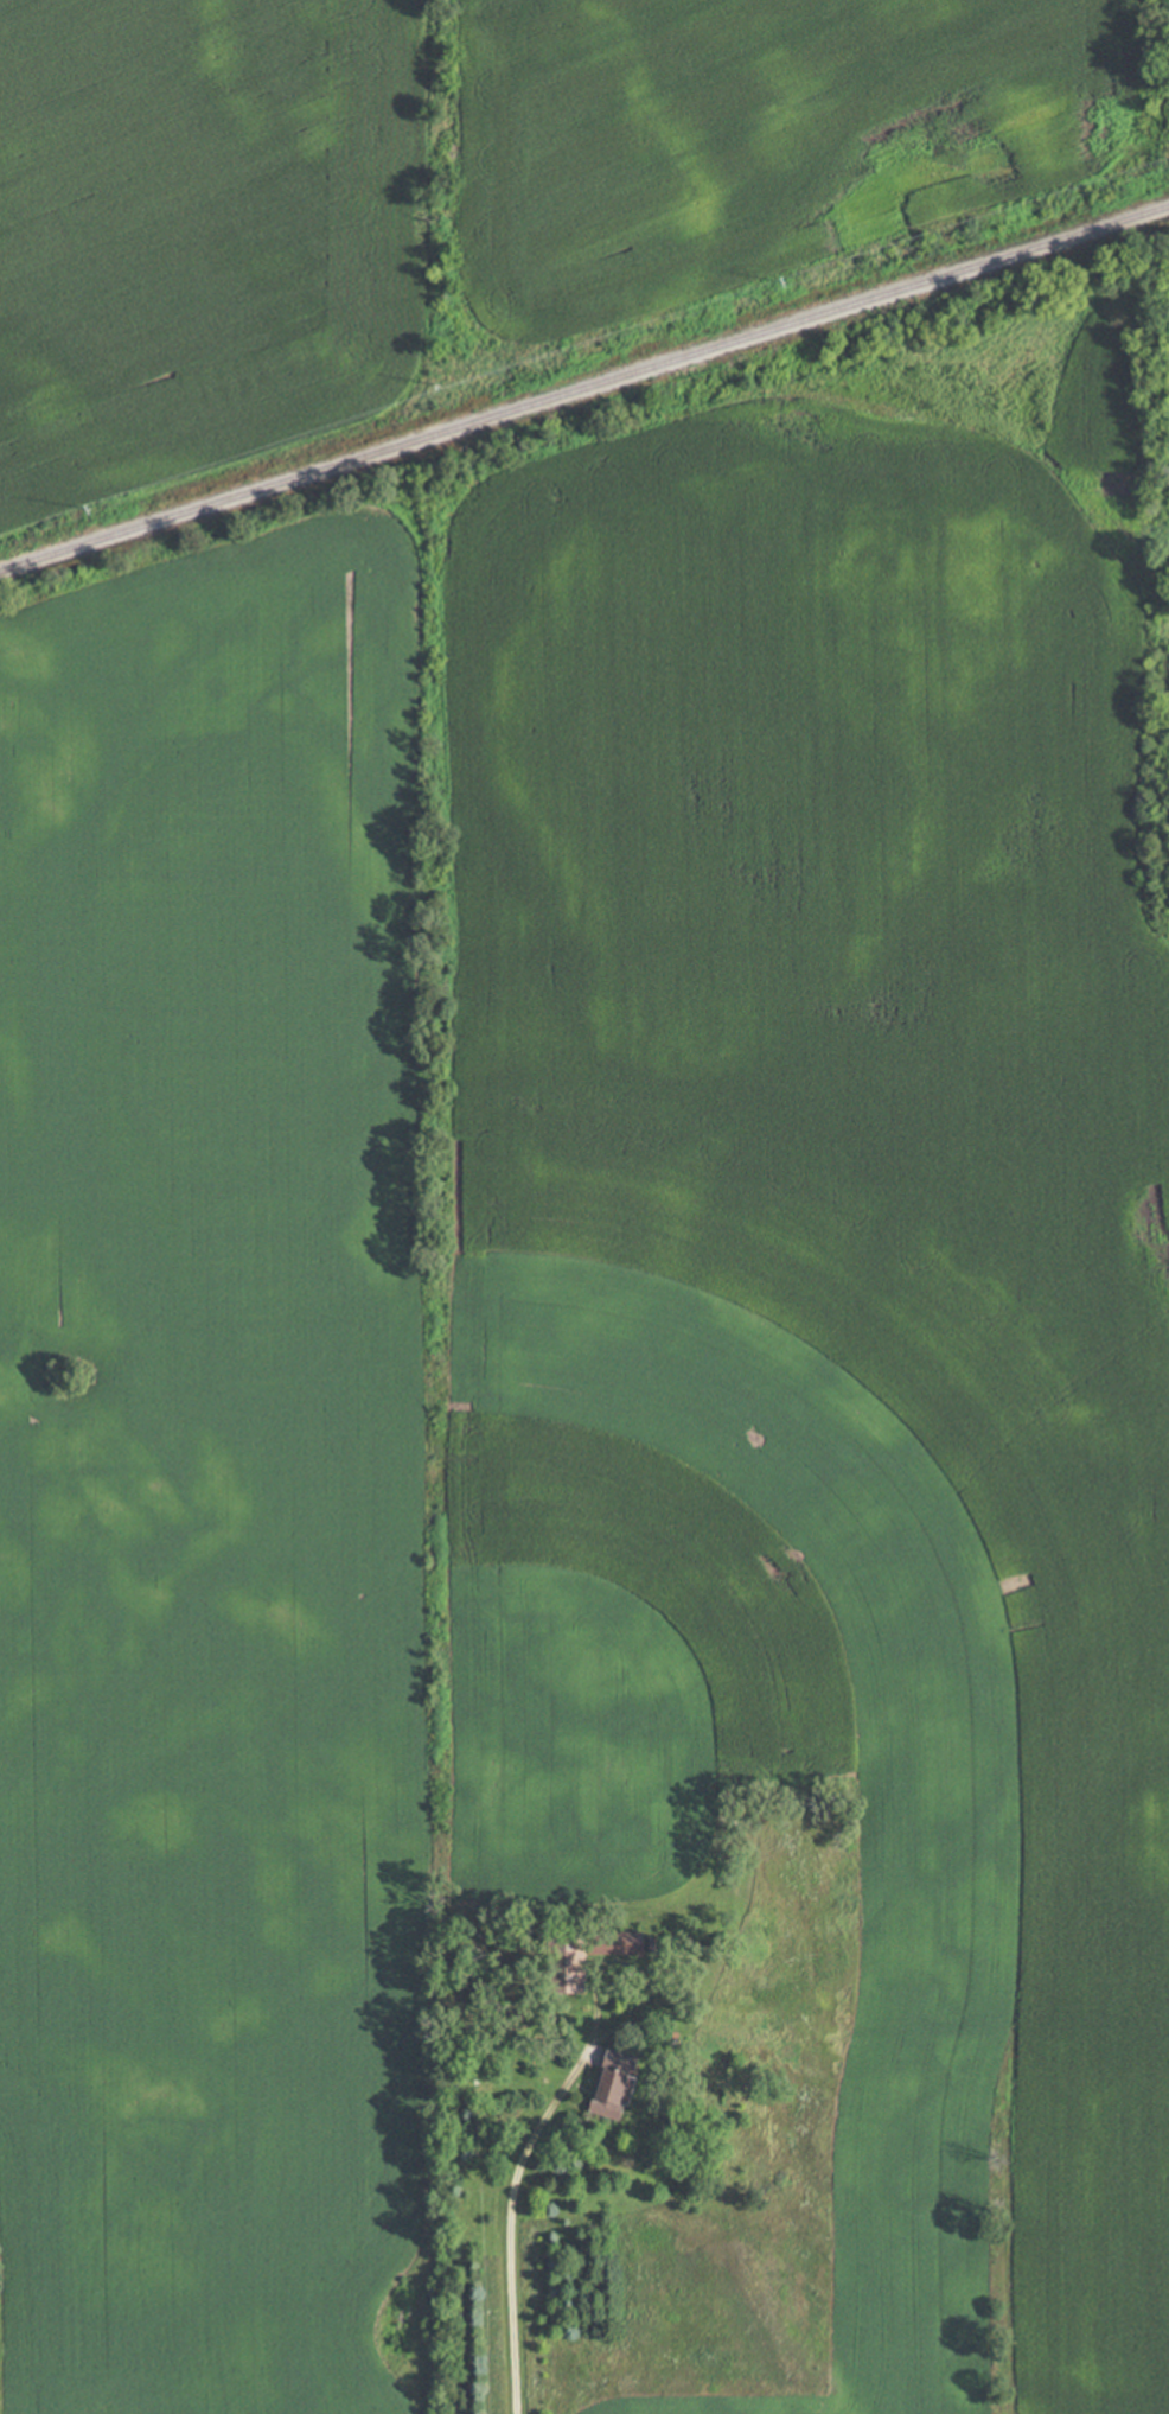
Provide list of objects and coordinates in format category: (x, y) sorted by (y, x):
railway: (583, 388)
building: (622, 2082)
road: (509, 2224)

